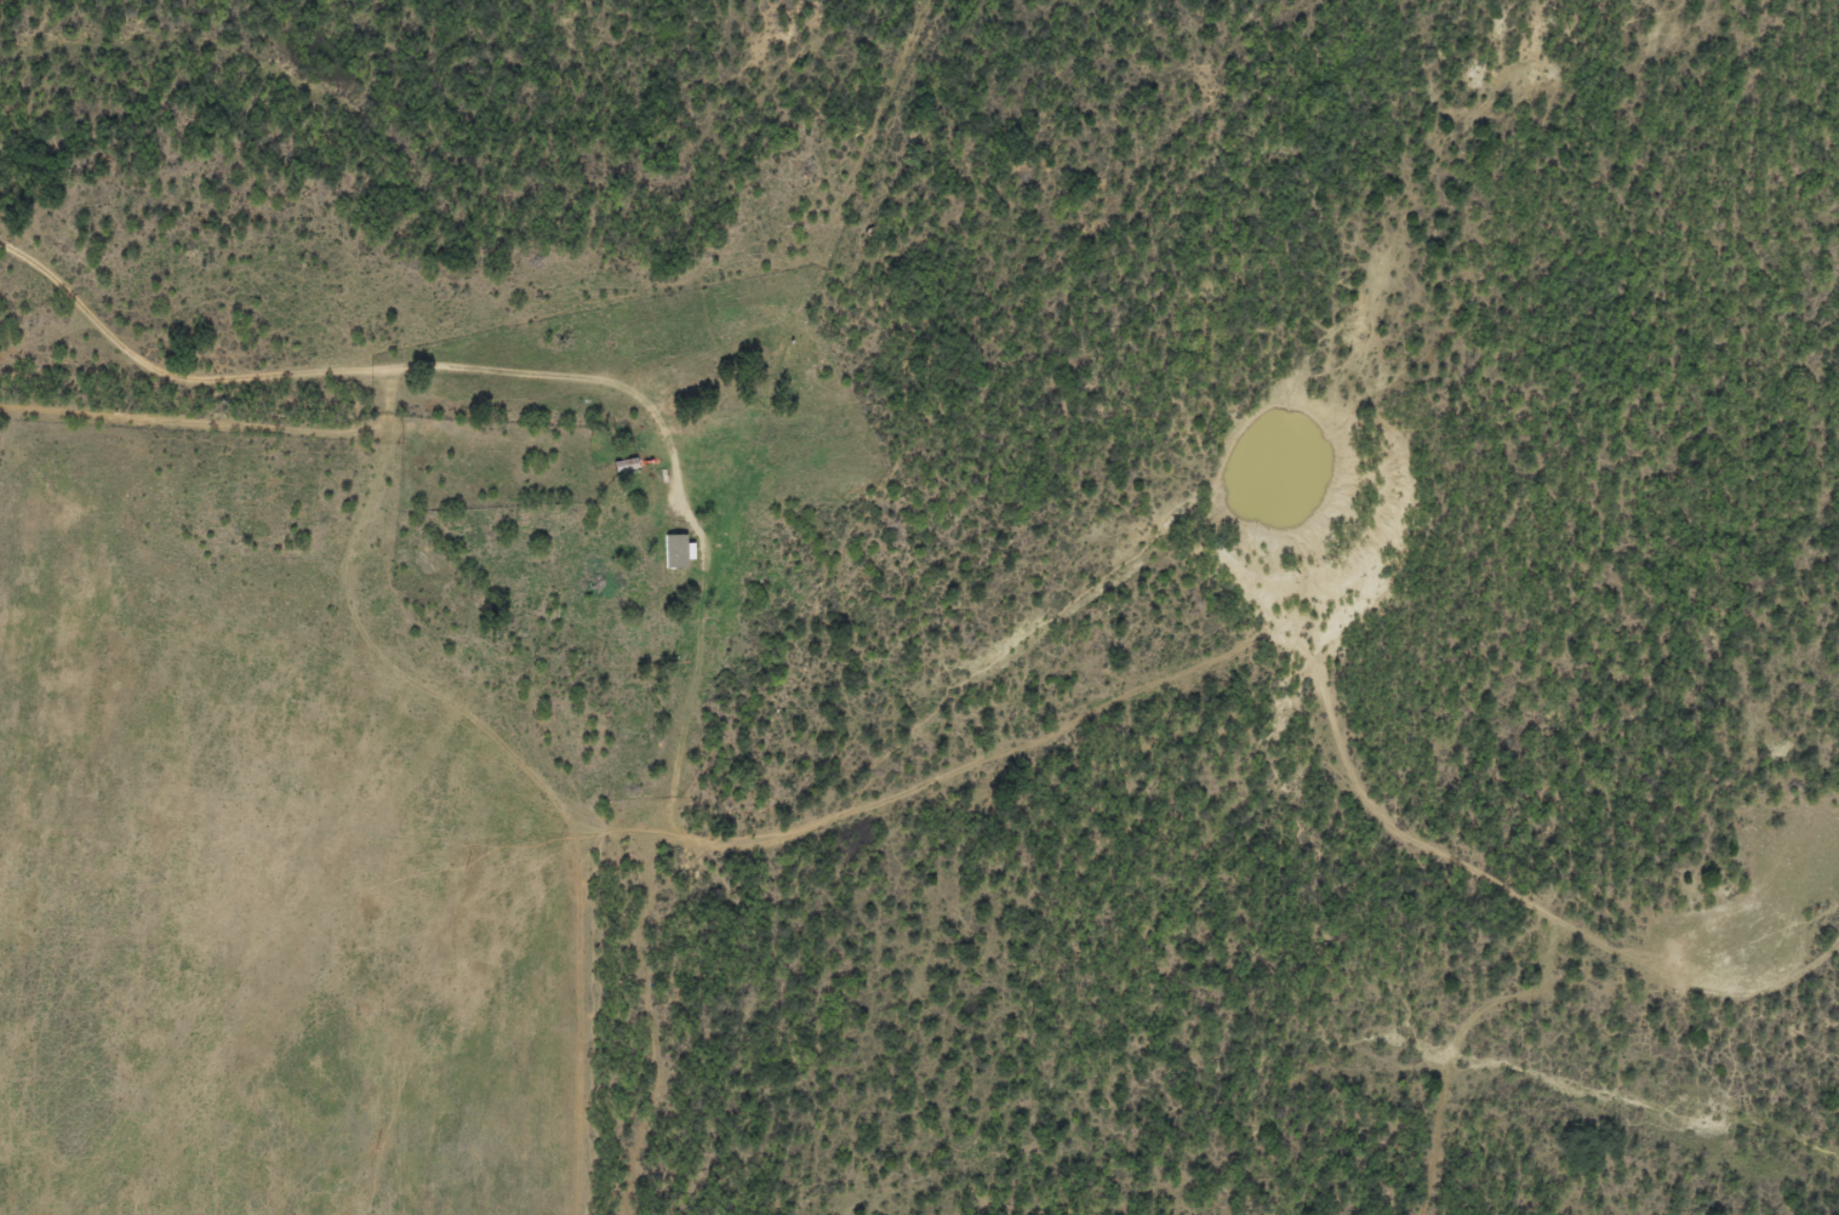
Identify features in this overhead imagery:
road: (354, 380)
building: (676, 564)

